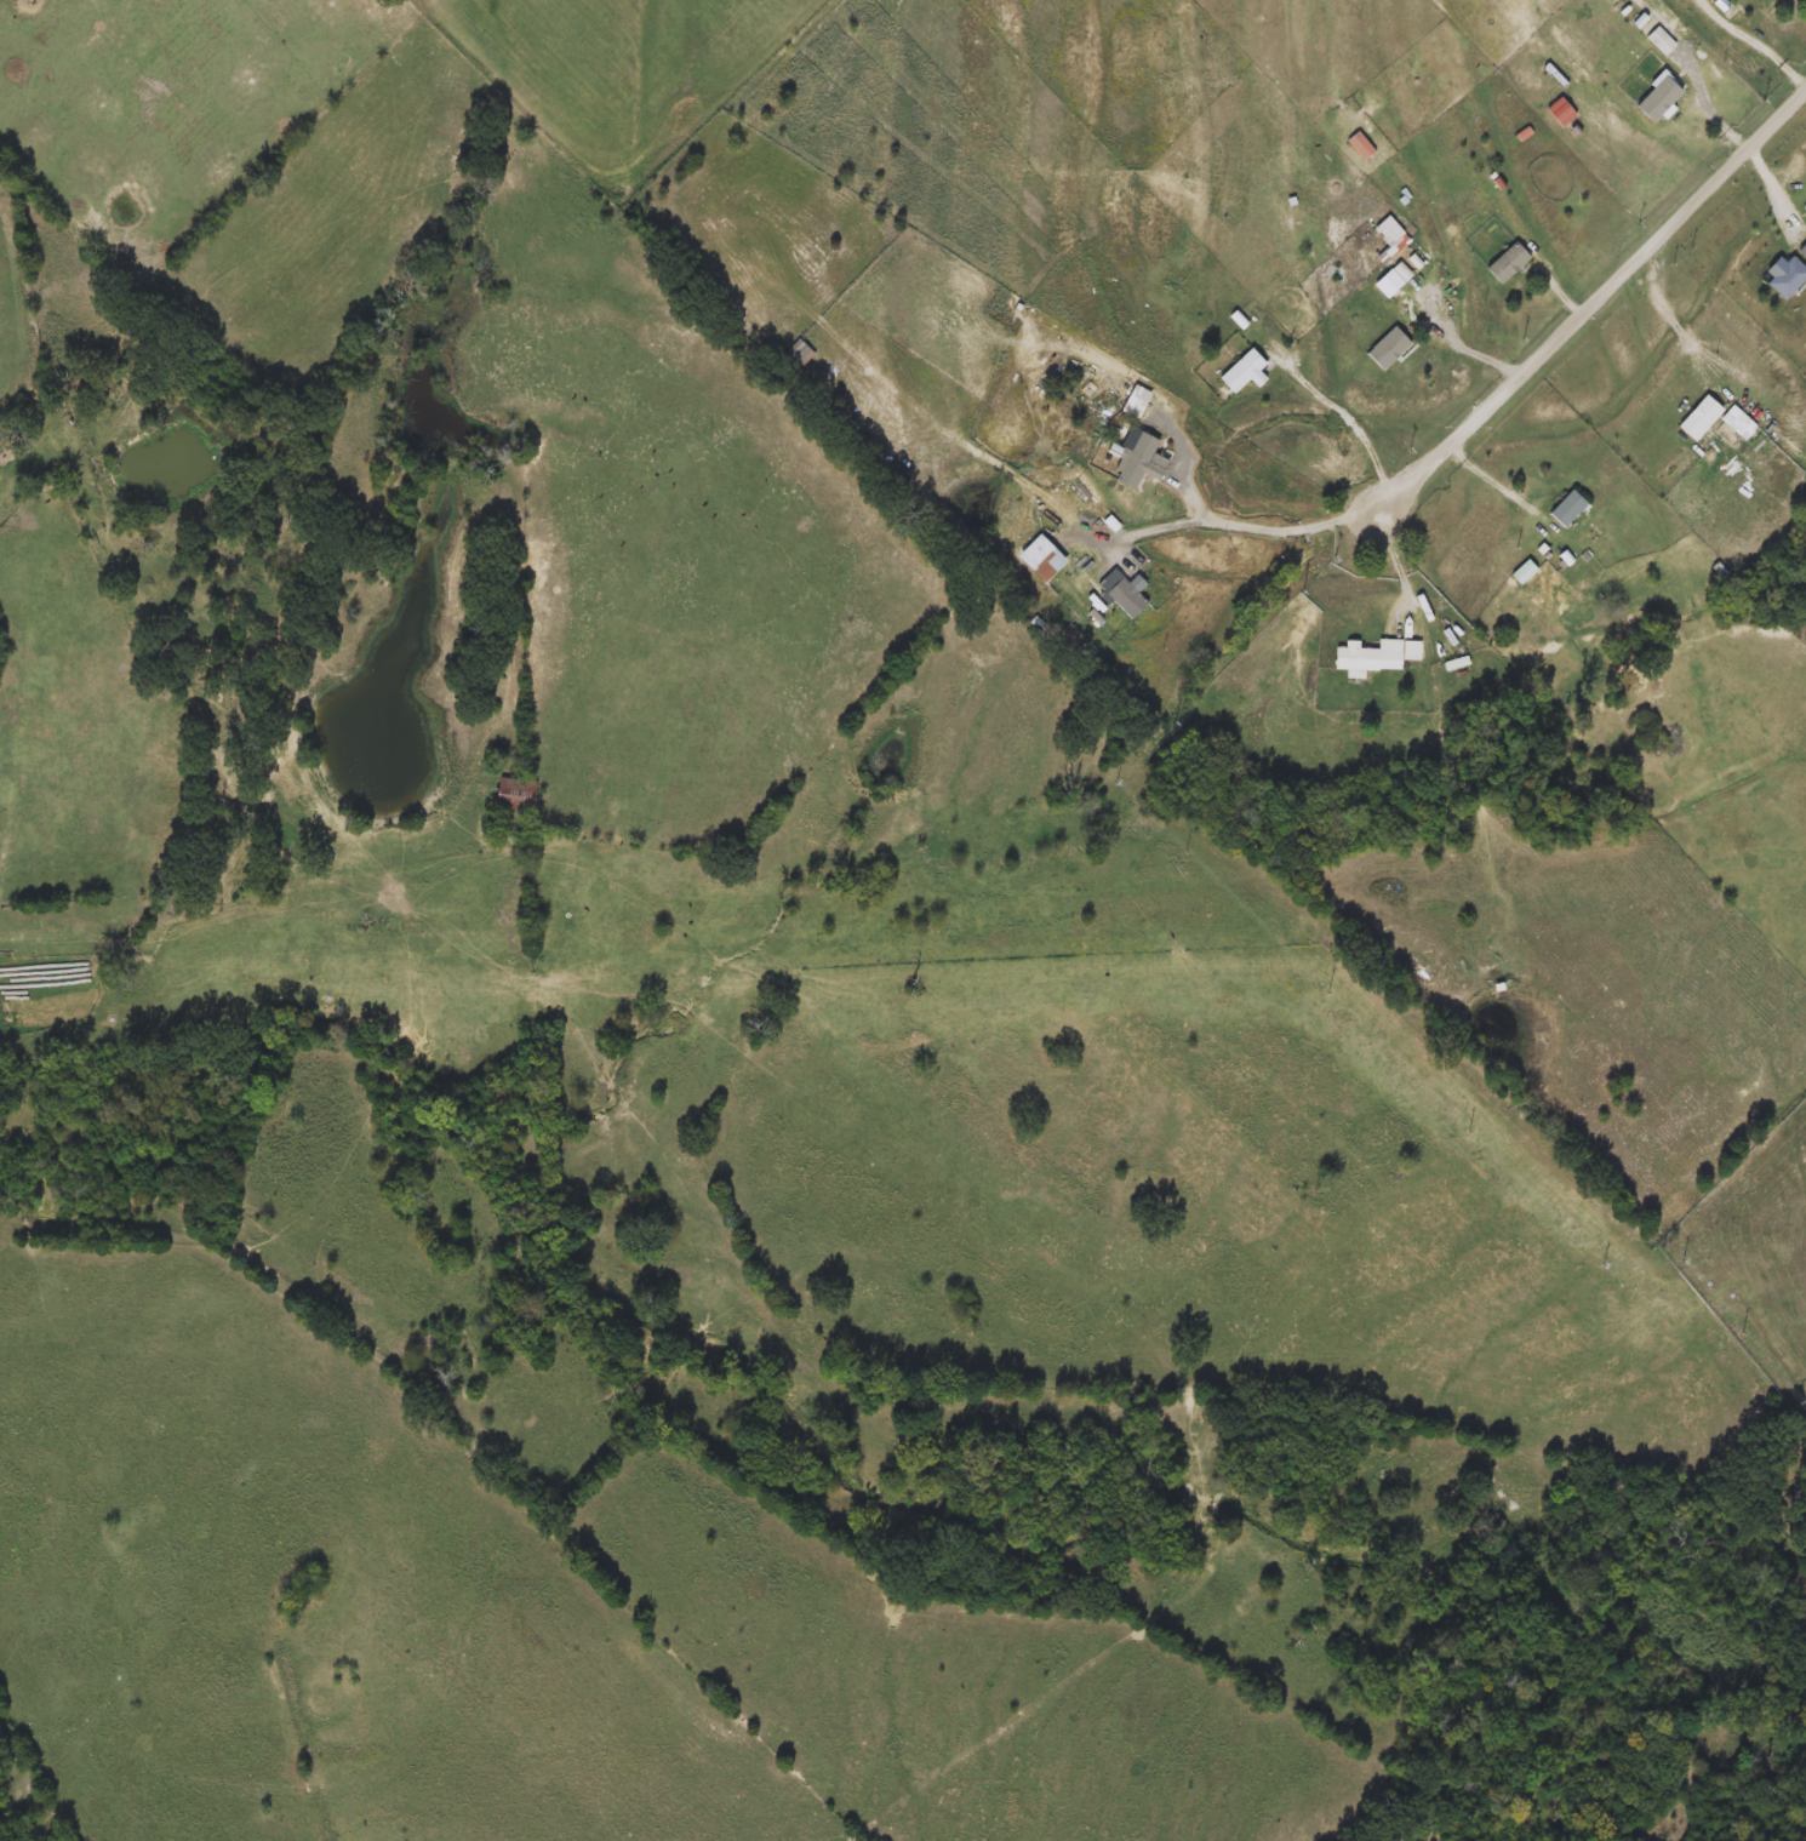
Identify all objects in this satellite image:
road: (1754, 42)
road: (1698, 72)
building: (1359, 147)
building: (1802, 251)
building: (1505, 263)
building: (1785, 279)
road: (1675, 322)
road: (1468, 343)
building: (796, 356)
road: (24, 358)
building: (1241, 373)
road: (1482, 412)
road: (1355, 417)
road: (67, 478)
road: (1494, 478)
building: (1565, 509)
road: (1258, 524)
road: (1401, 562)
building: (1125, 599)
building: (1367, 657)
building: (520, 796)

